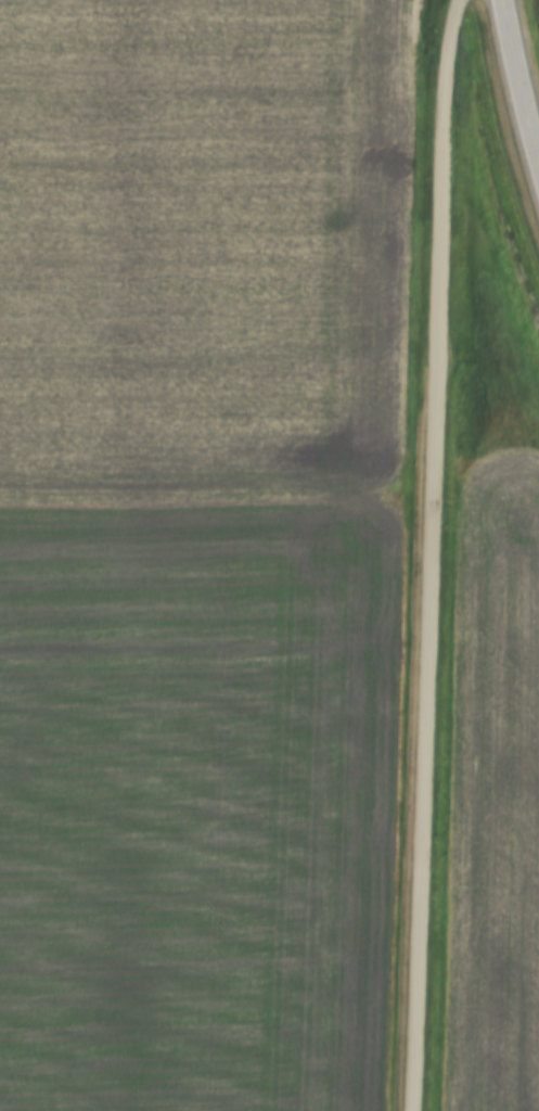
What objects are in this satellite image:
road: (519, 73)
crop: (202, 550)
road: (432, 554)
crop: (497, 793)

